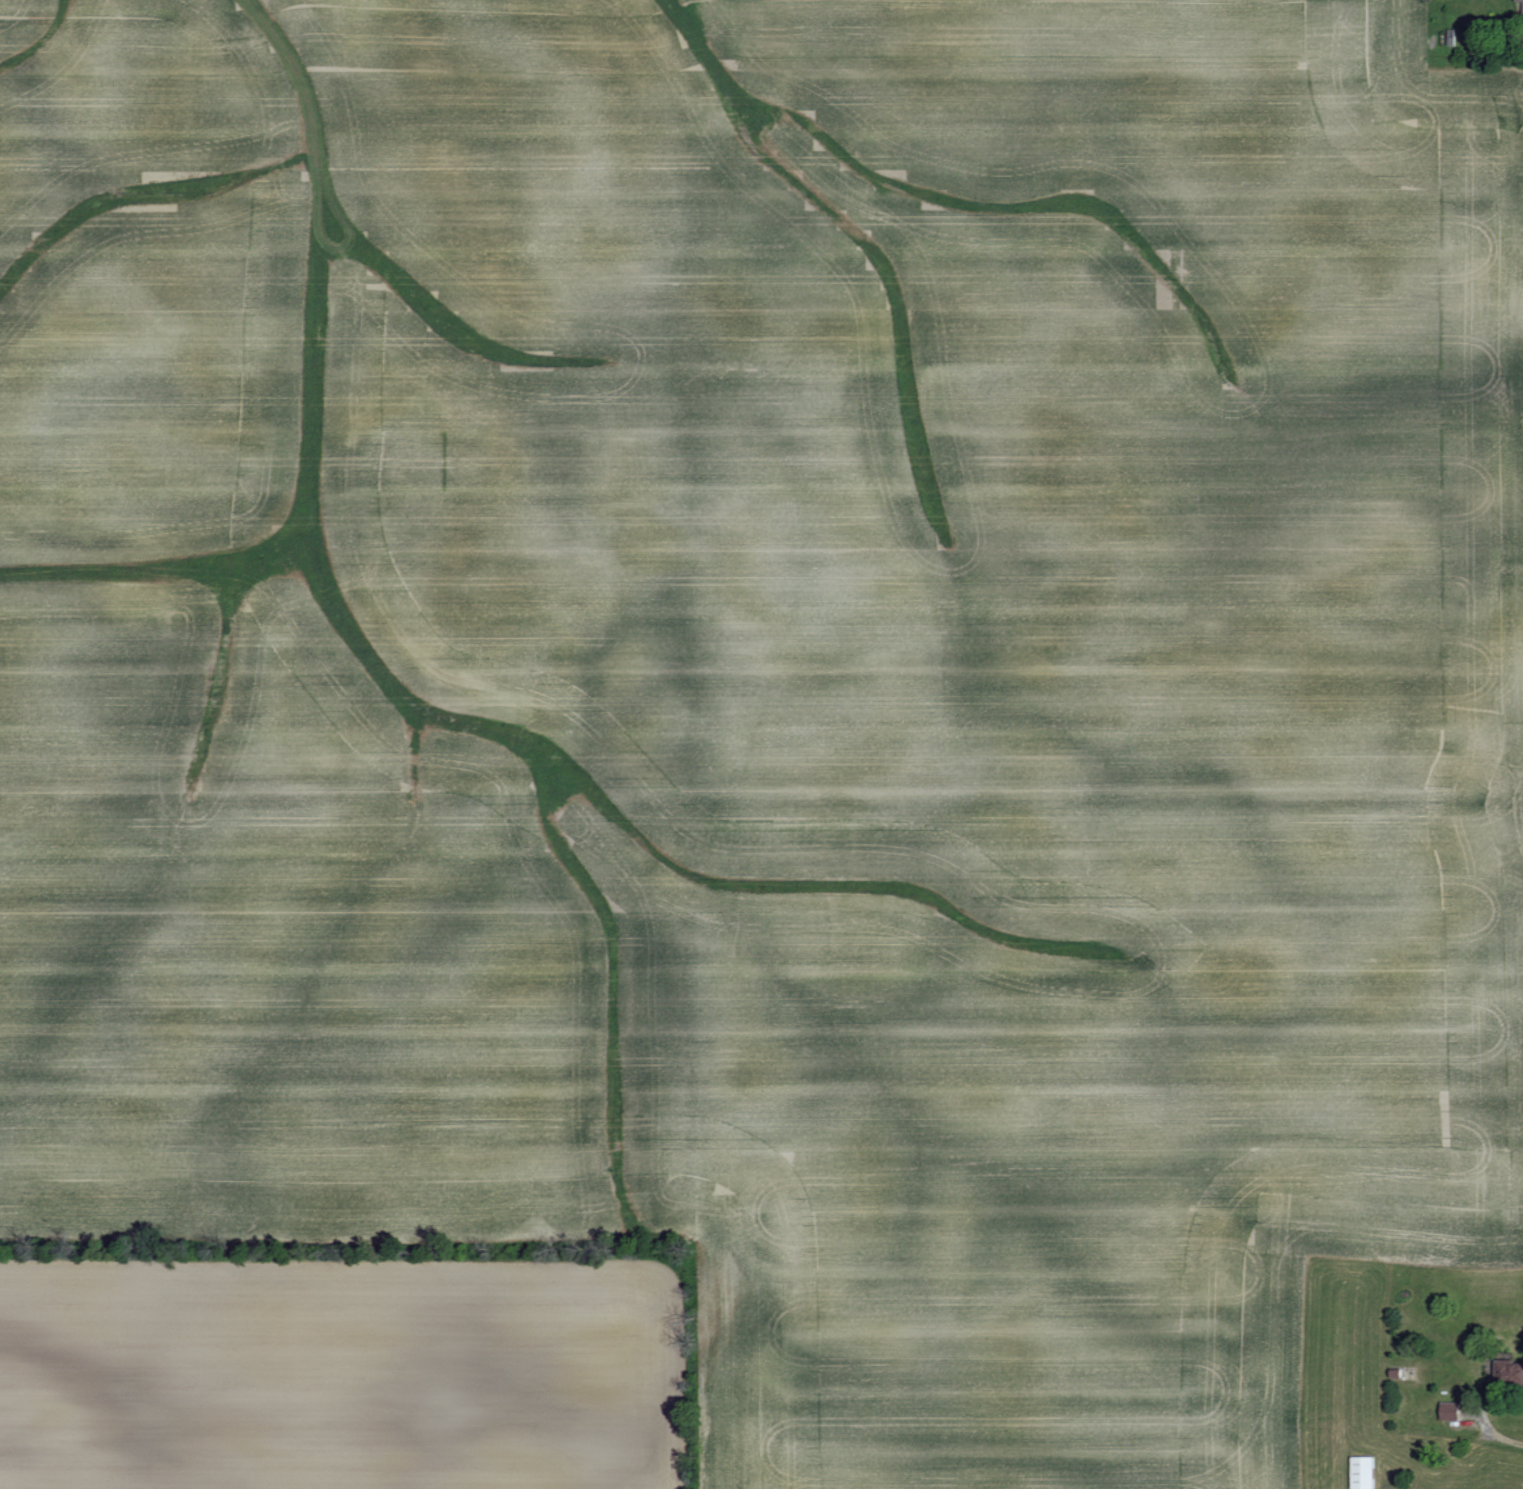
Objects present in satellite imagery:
building: (1522, 7)
building: (1508, 1372)
building: (1449, 1409)
road: (1495, 1434)
building: (1362, 1472)

